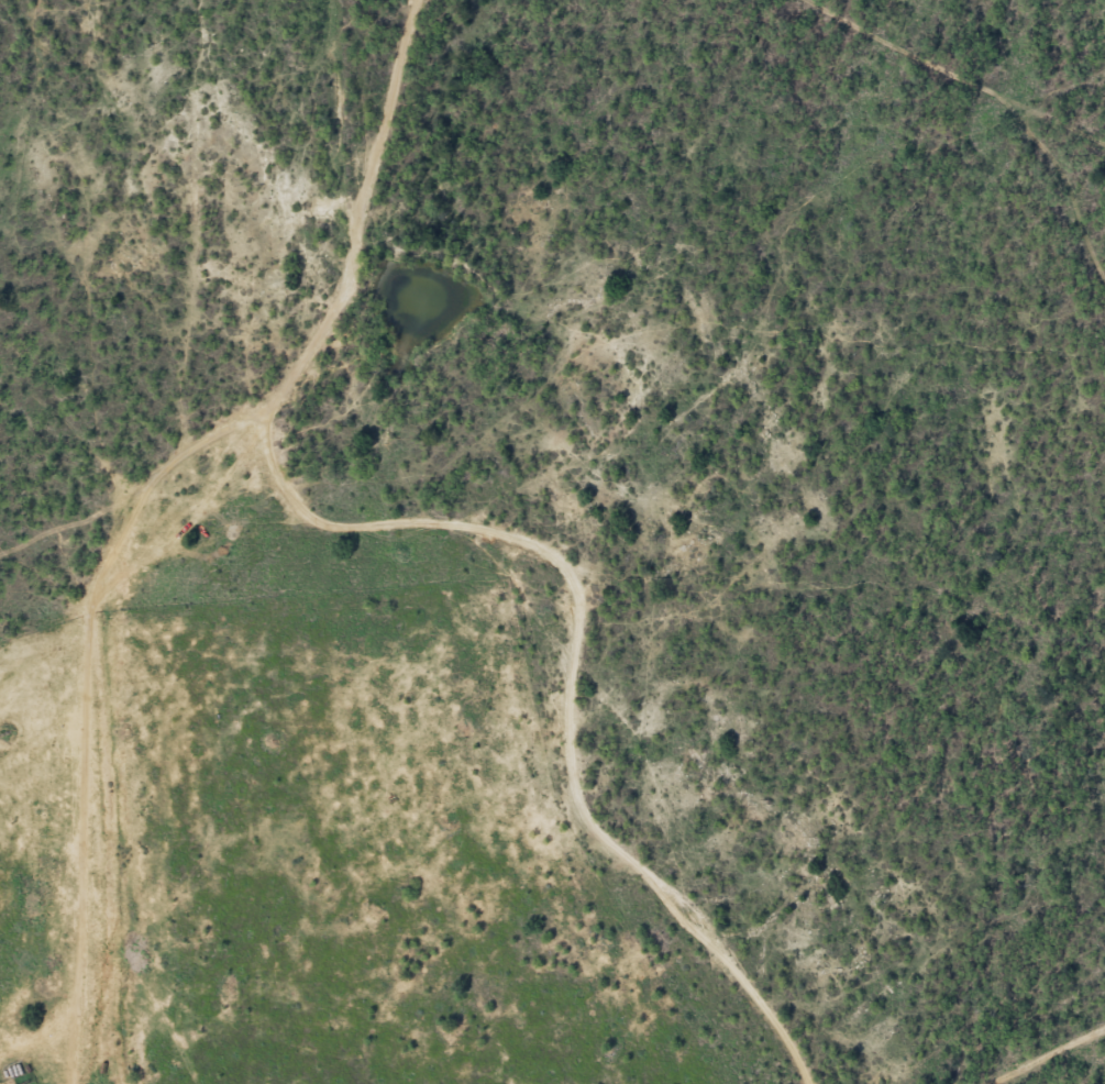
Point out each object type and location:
road: (188, 501)
road: (623, 699)

